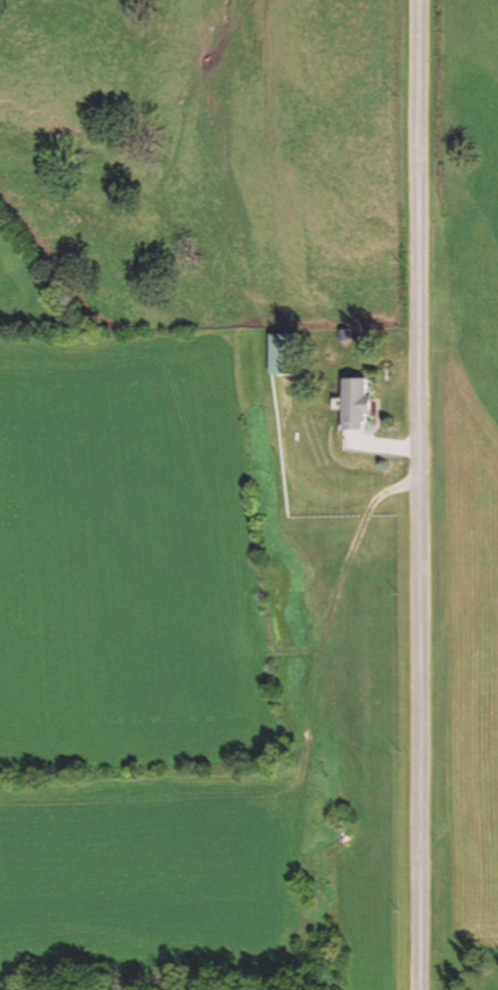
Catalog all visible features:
building: (291, 354)
building: (362, 404)
road: (418, 495)

